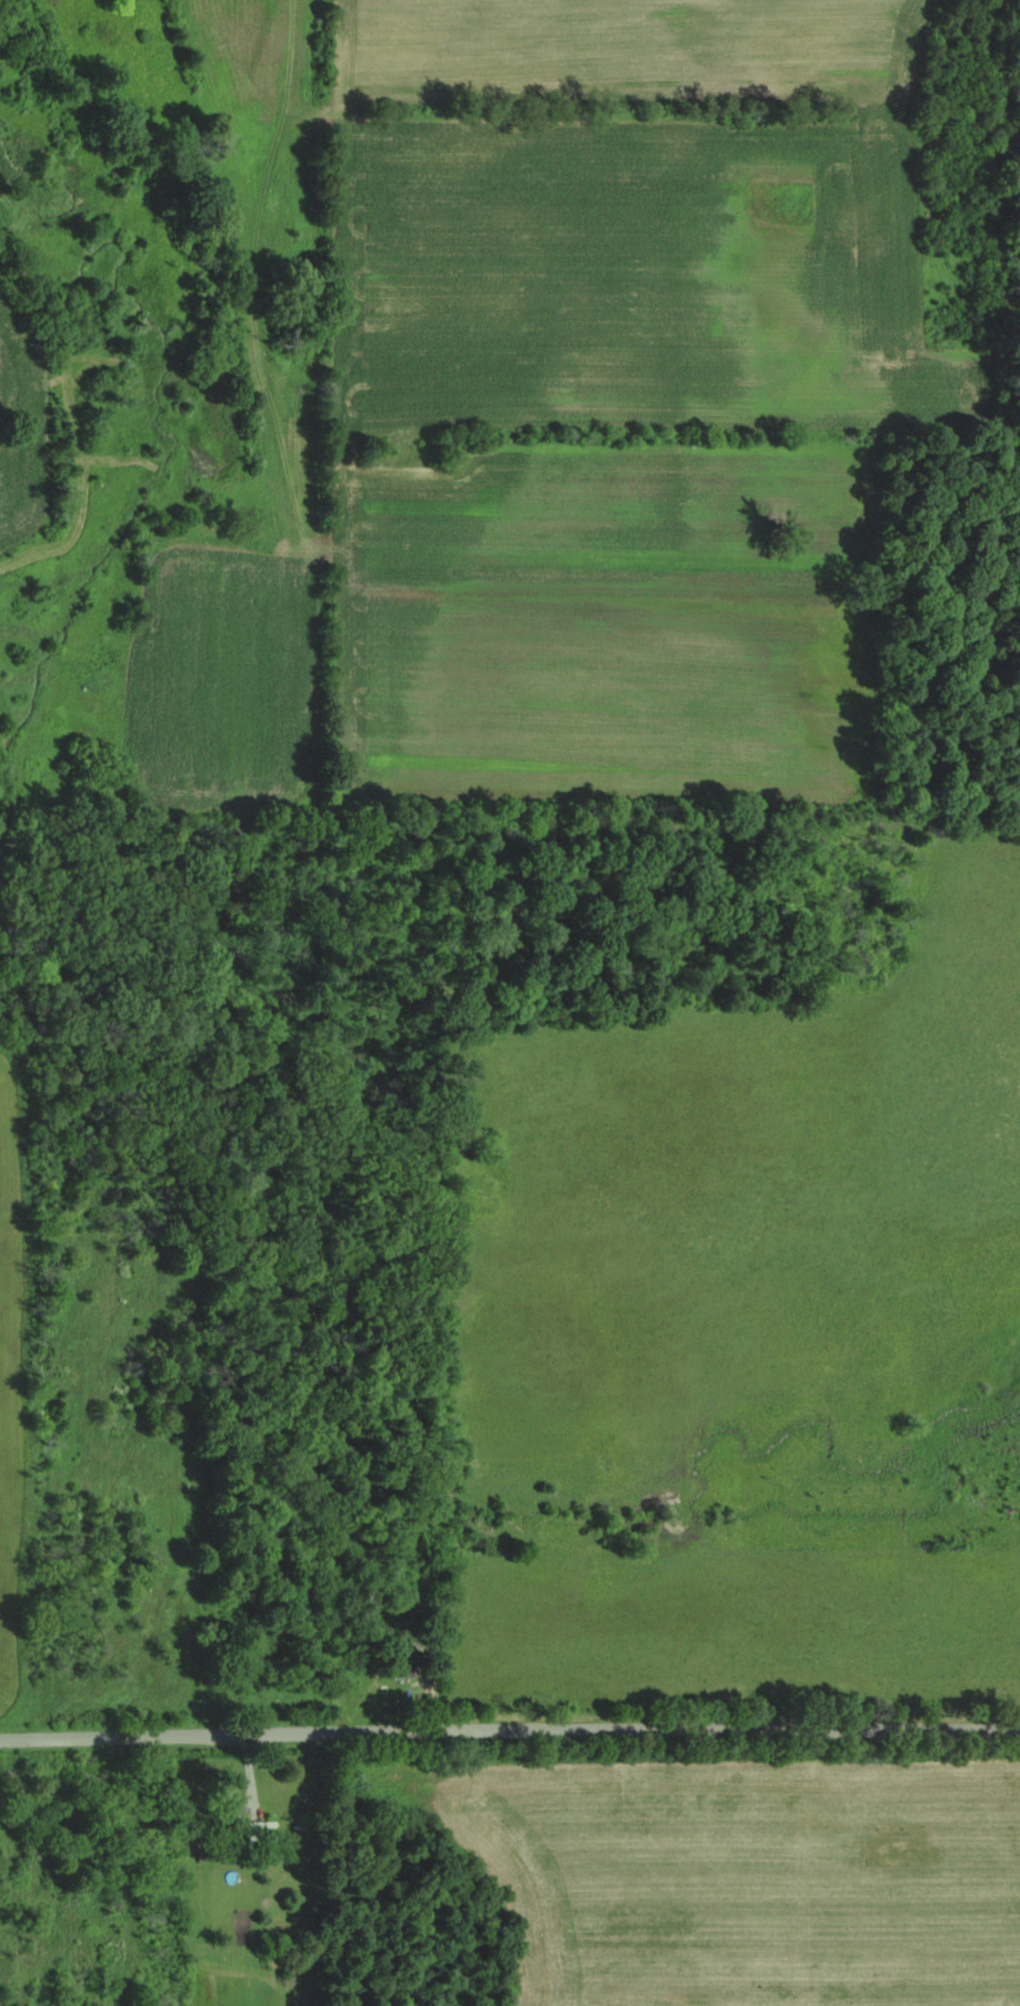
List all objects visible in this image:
road: (509, 1734)
building: (228, 1801)
building: (255, 1831)

